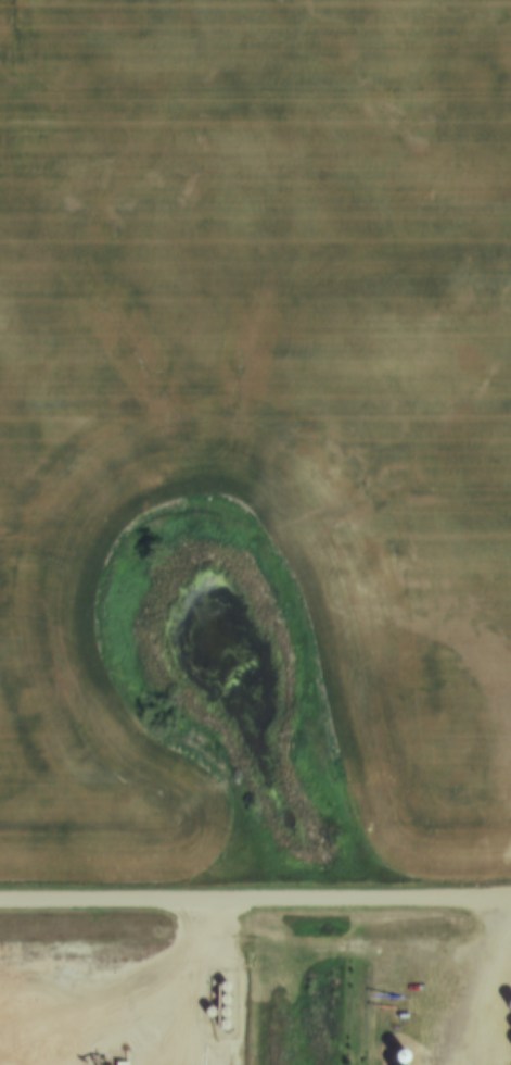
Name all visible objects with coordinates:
road: (255, 903)
road: (497, 1030)

